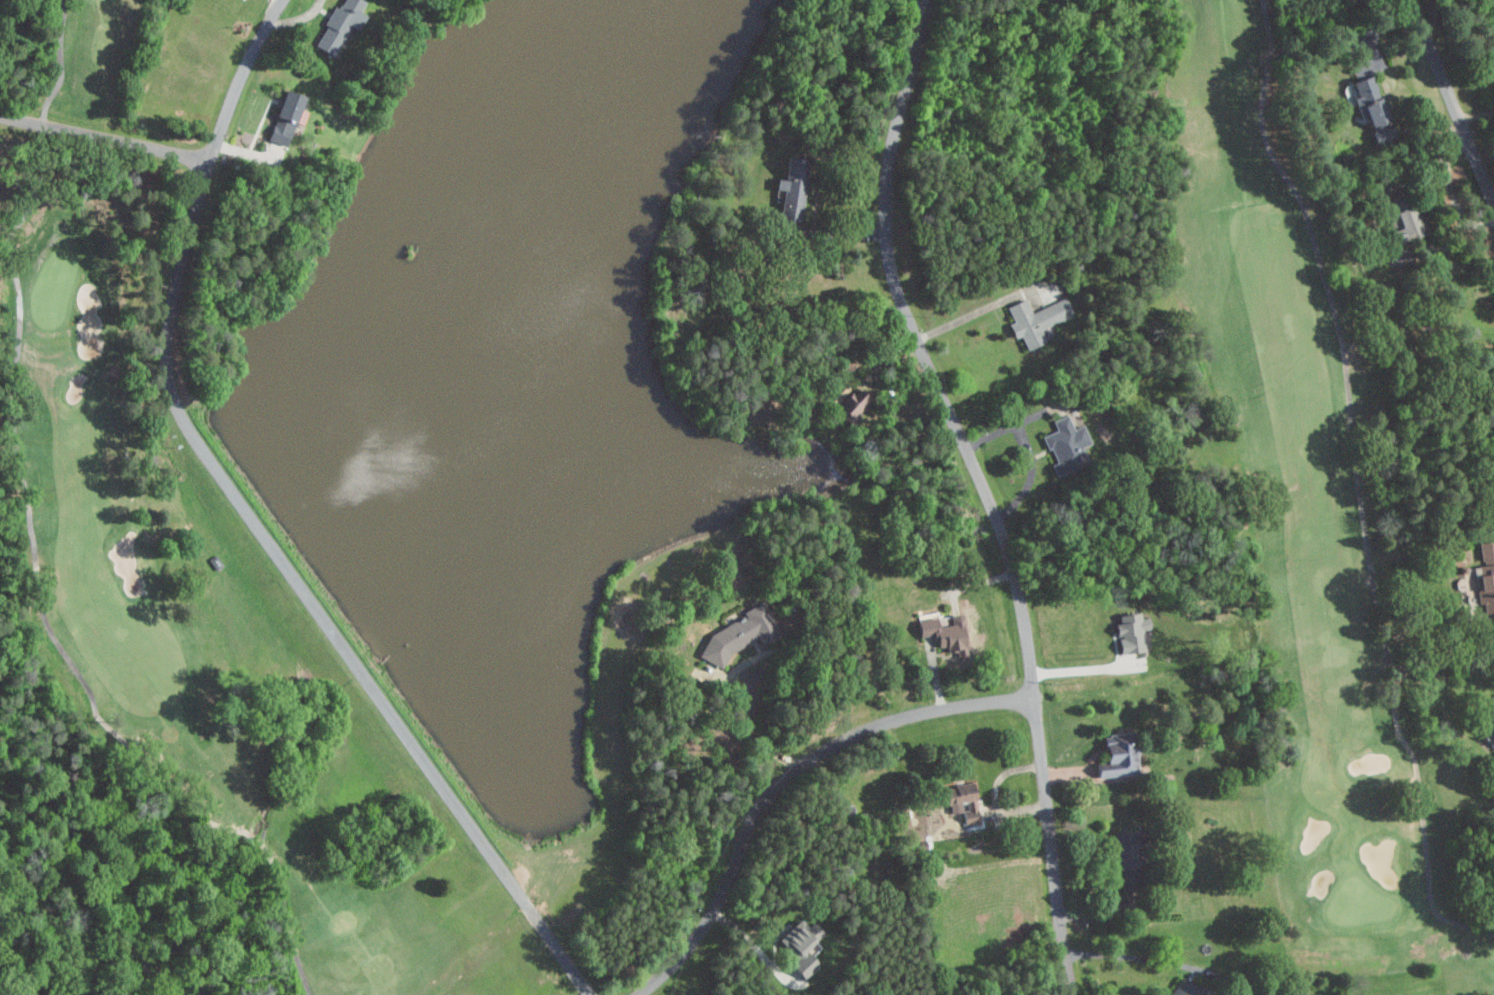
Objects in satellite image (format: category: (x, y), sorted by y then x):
building: (337, 23)
building: (1368, 100)
road: (1452, 101)
building: (283, 117)
road: (104, 138)
building: (788, 187)
building: (1399, 221)
road: (963, 318)
building: (1034, 320)
building: (848, 402)
building: (1065, 445)
road: (1379, 480)
road: (983, 490)
park: (747, 497)
road: (255, 527)
building: (1486, 550)
building: (1485, 585)
building: (1128, 633)
building: (945, 634)
building: (737, 635)
road: (1082, 668)
building: (1486, 728)
road: (756, 732)
building: (1114, 754)
road: (785, 778)
building: (963, 808)
building: (1120, 850)
road: (751, 942)
road: (1156, 960)
building: (1183, 988)

